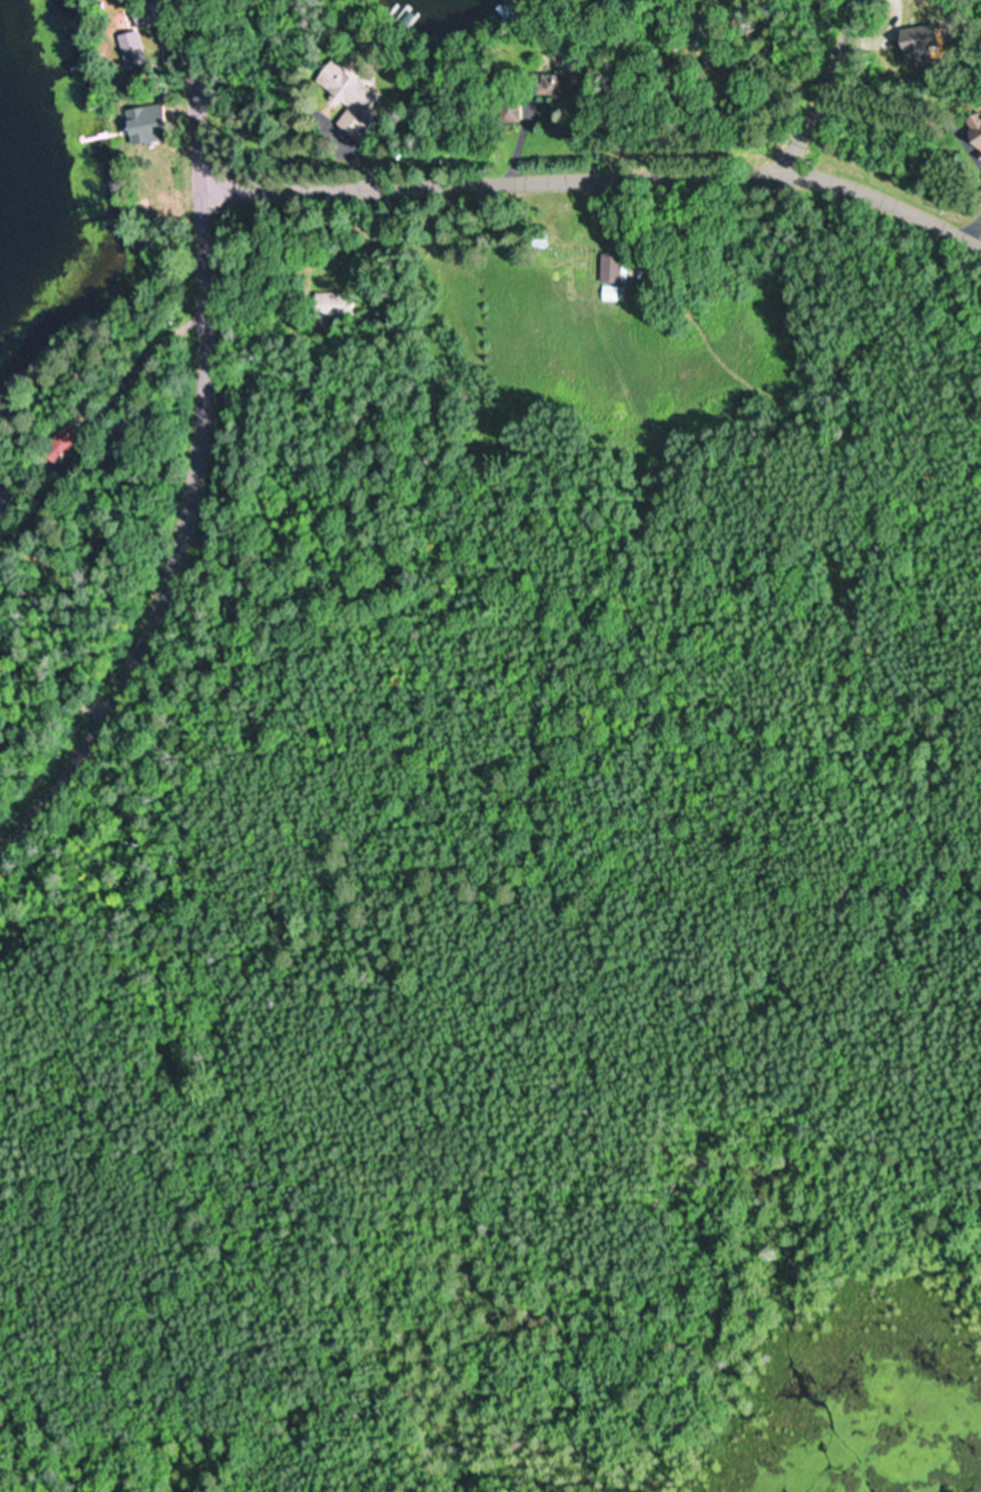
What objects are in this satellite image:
building: (411, 15)
building: (130, 51)
building: (915, 51)
road: (817, 84)
building: (552, 85)
building: (347, 98)
building: (508, 111)
building: (142, 124)
building: (976, 143)
road: (596, 172)
building: (328, 303)
road: (466, 364)
building: (63, 444)
road: (195, 449)
road: (32, 741)

